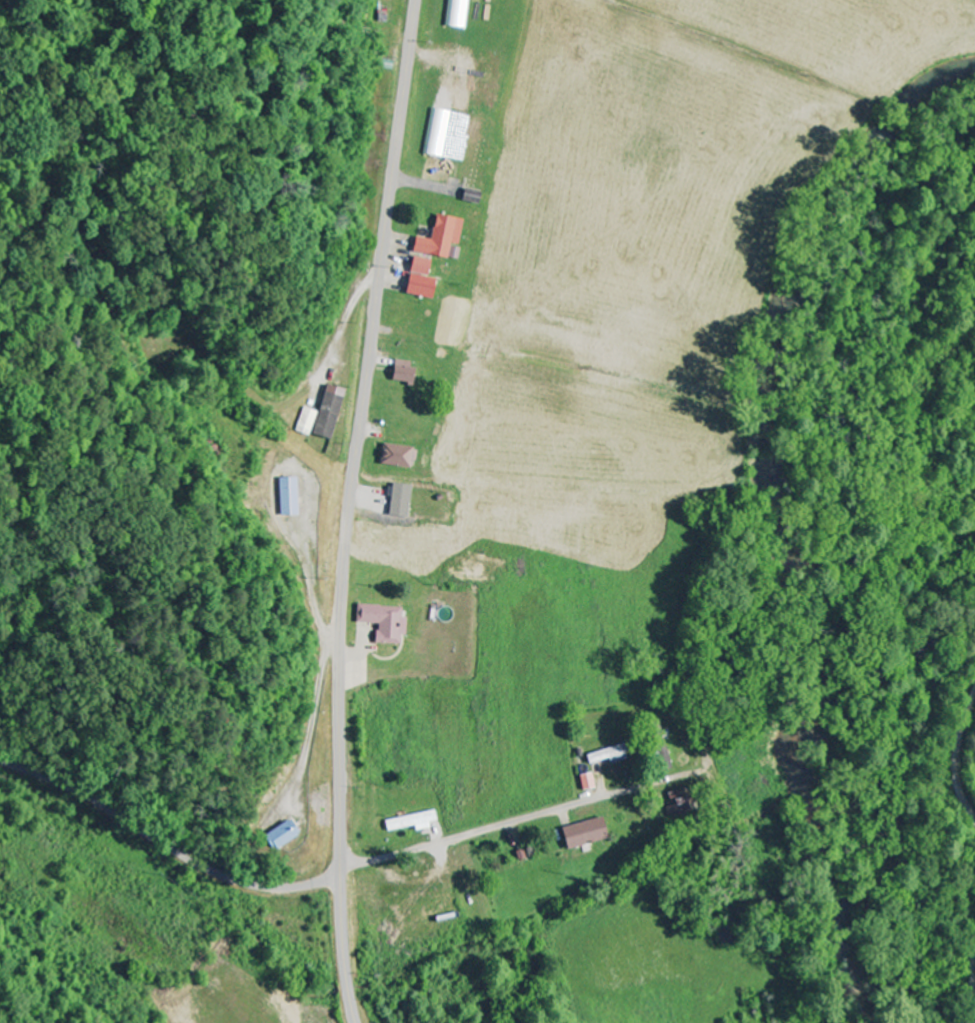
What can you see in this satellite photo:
building: (456, 14)
building: (437, 134)
building: (438, 238)
building: (418, 280)
building: (402, 373)
building: (321, 416)
building: (395, 456)
building: (287, 497)
building: (398, 501)
river: (770, 508)
road: (349, 509)
building: (381, 623)
road: (674, 694)
building: (605, 756)
road: (959, 759)
building: (585, 782)
building: (677, 802)
building: (410, 823)
road: (489, 832)
building: (581, 834)
building: (280, 835)
road: (972, 978)

